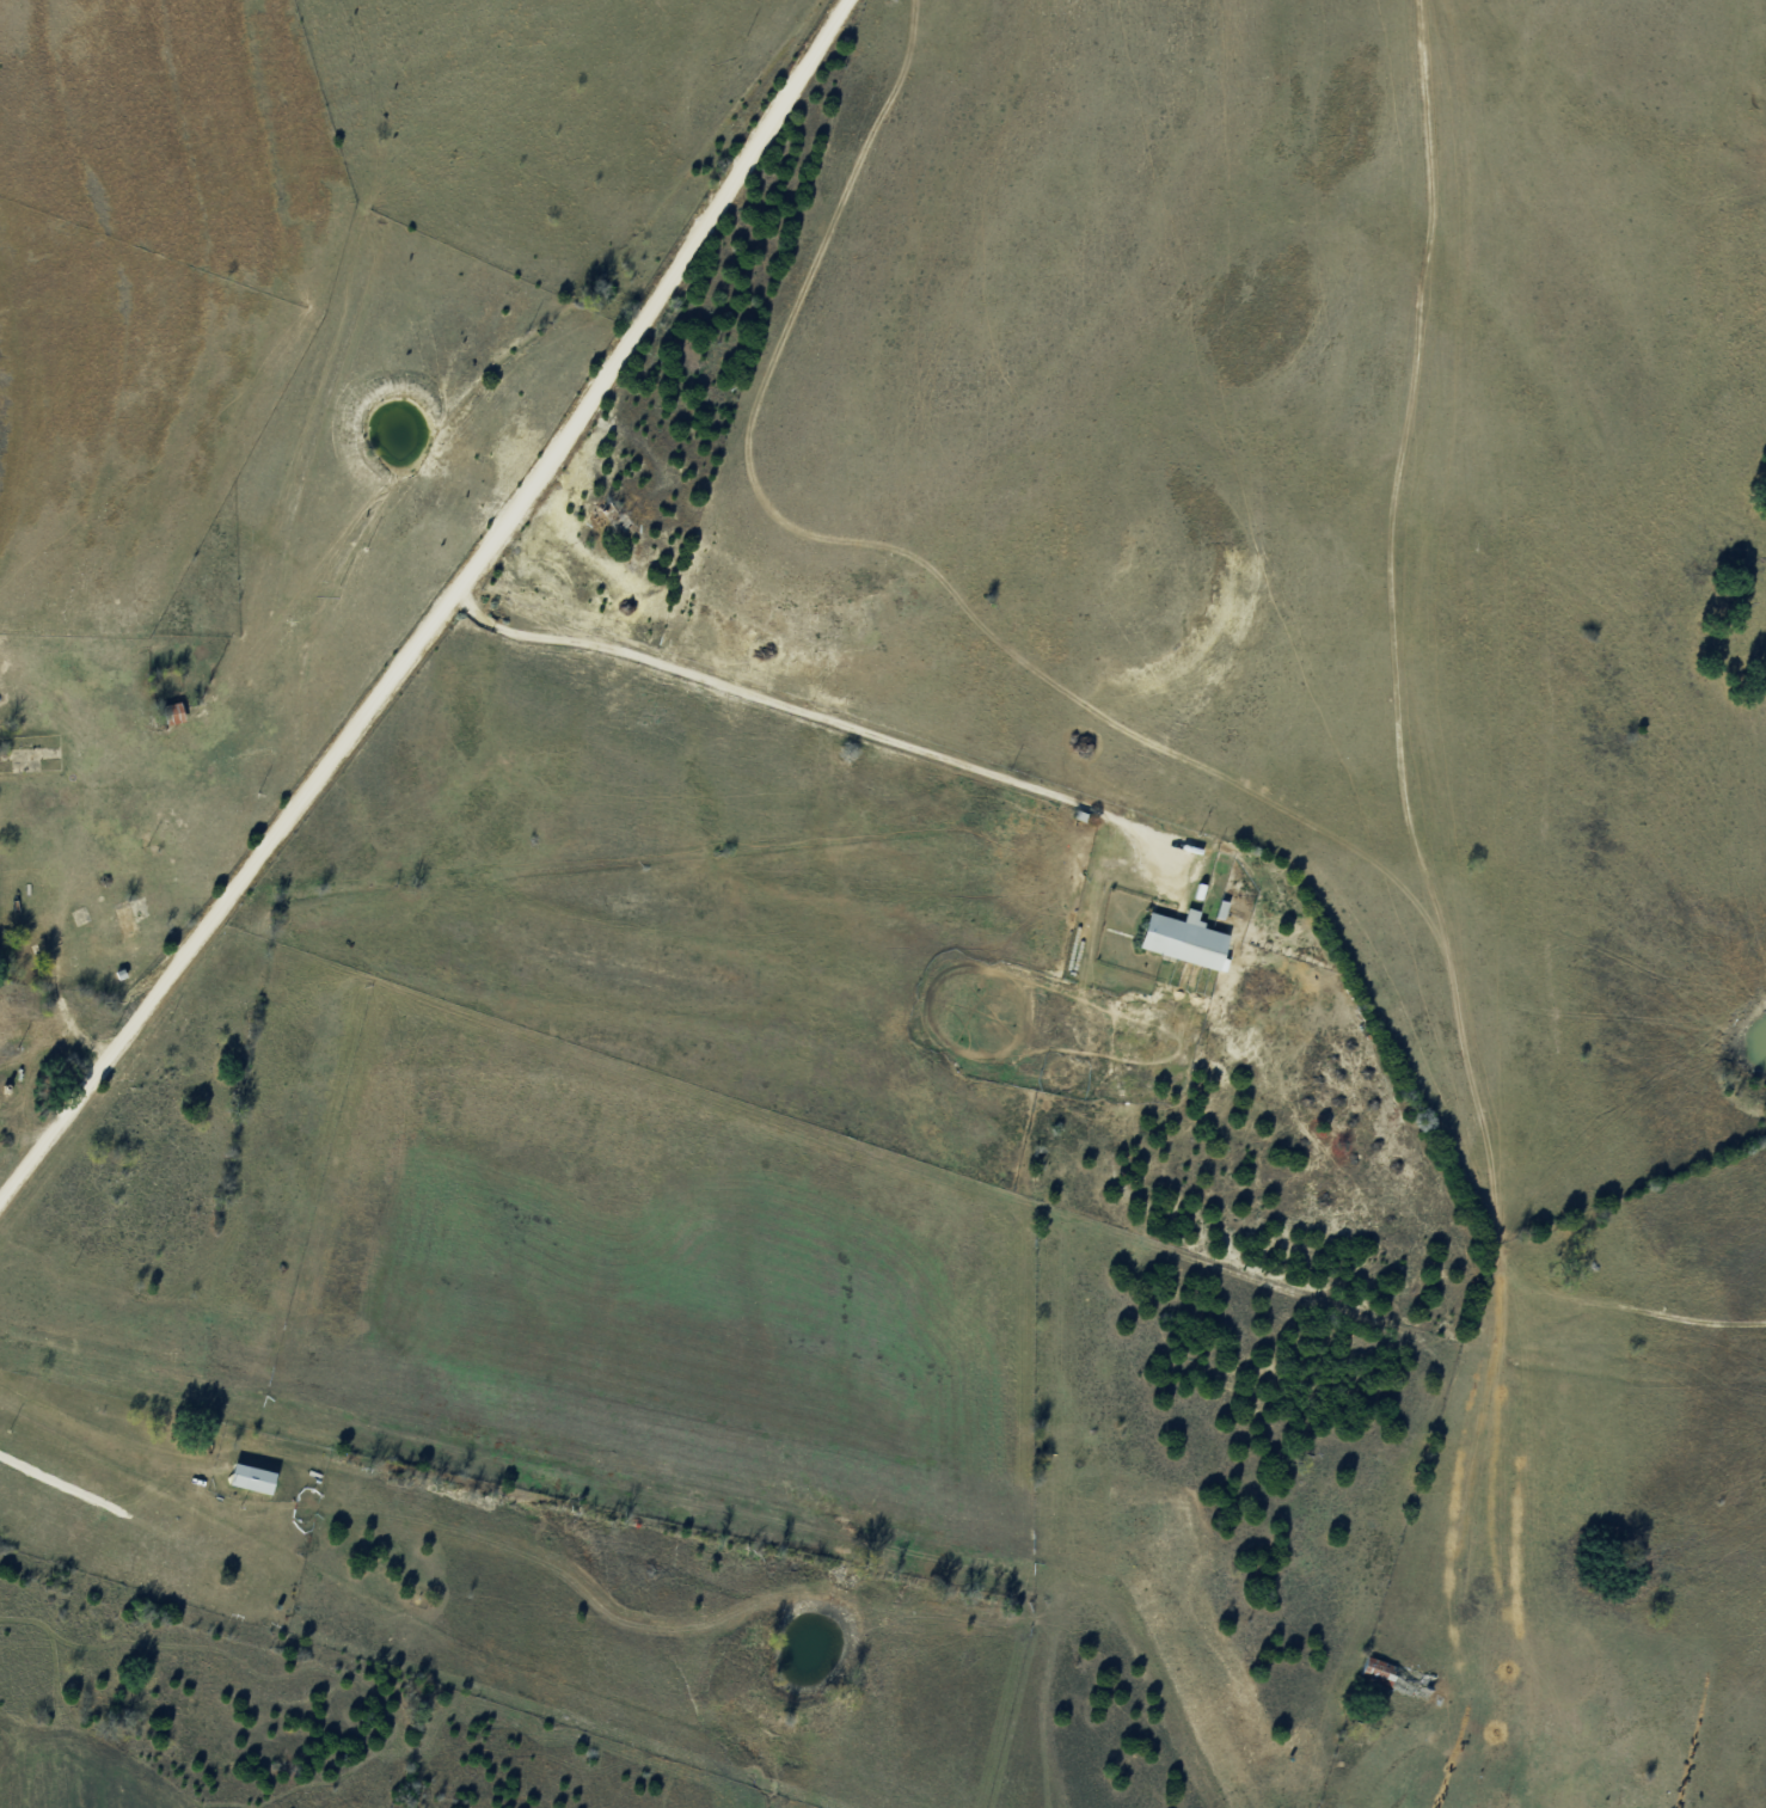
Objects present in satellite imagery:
road: (859, 342)
road: (477, 672)
building: (173, 712)
road: (1565, 817)
building: (128, 919)
building: (1188, 939)
road: (37, 1084)
building: (253, 1478)
building: (1399, 1675)

